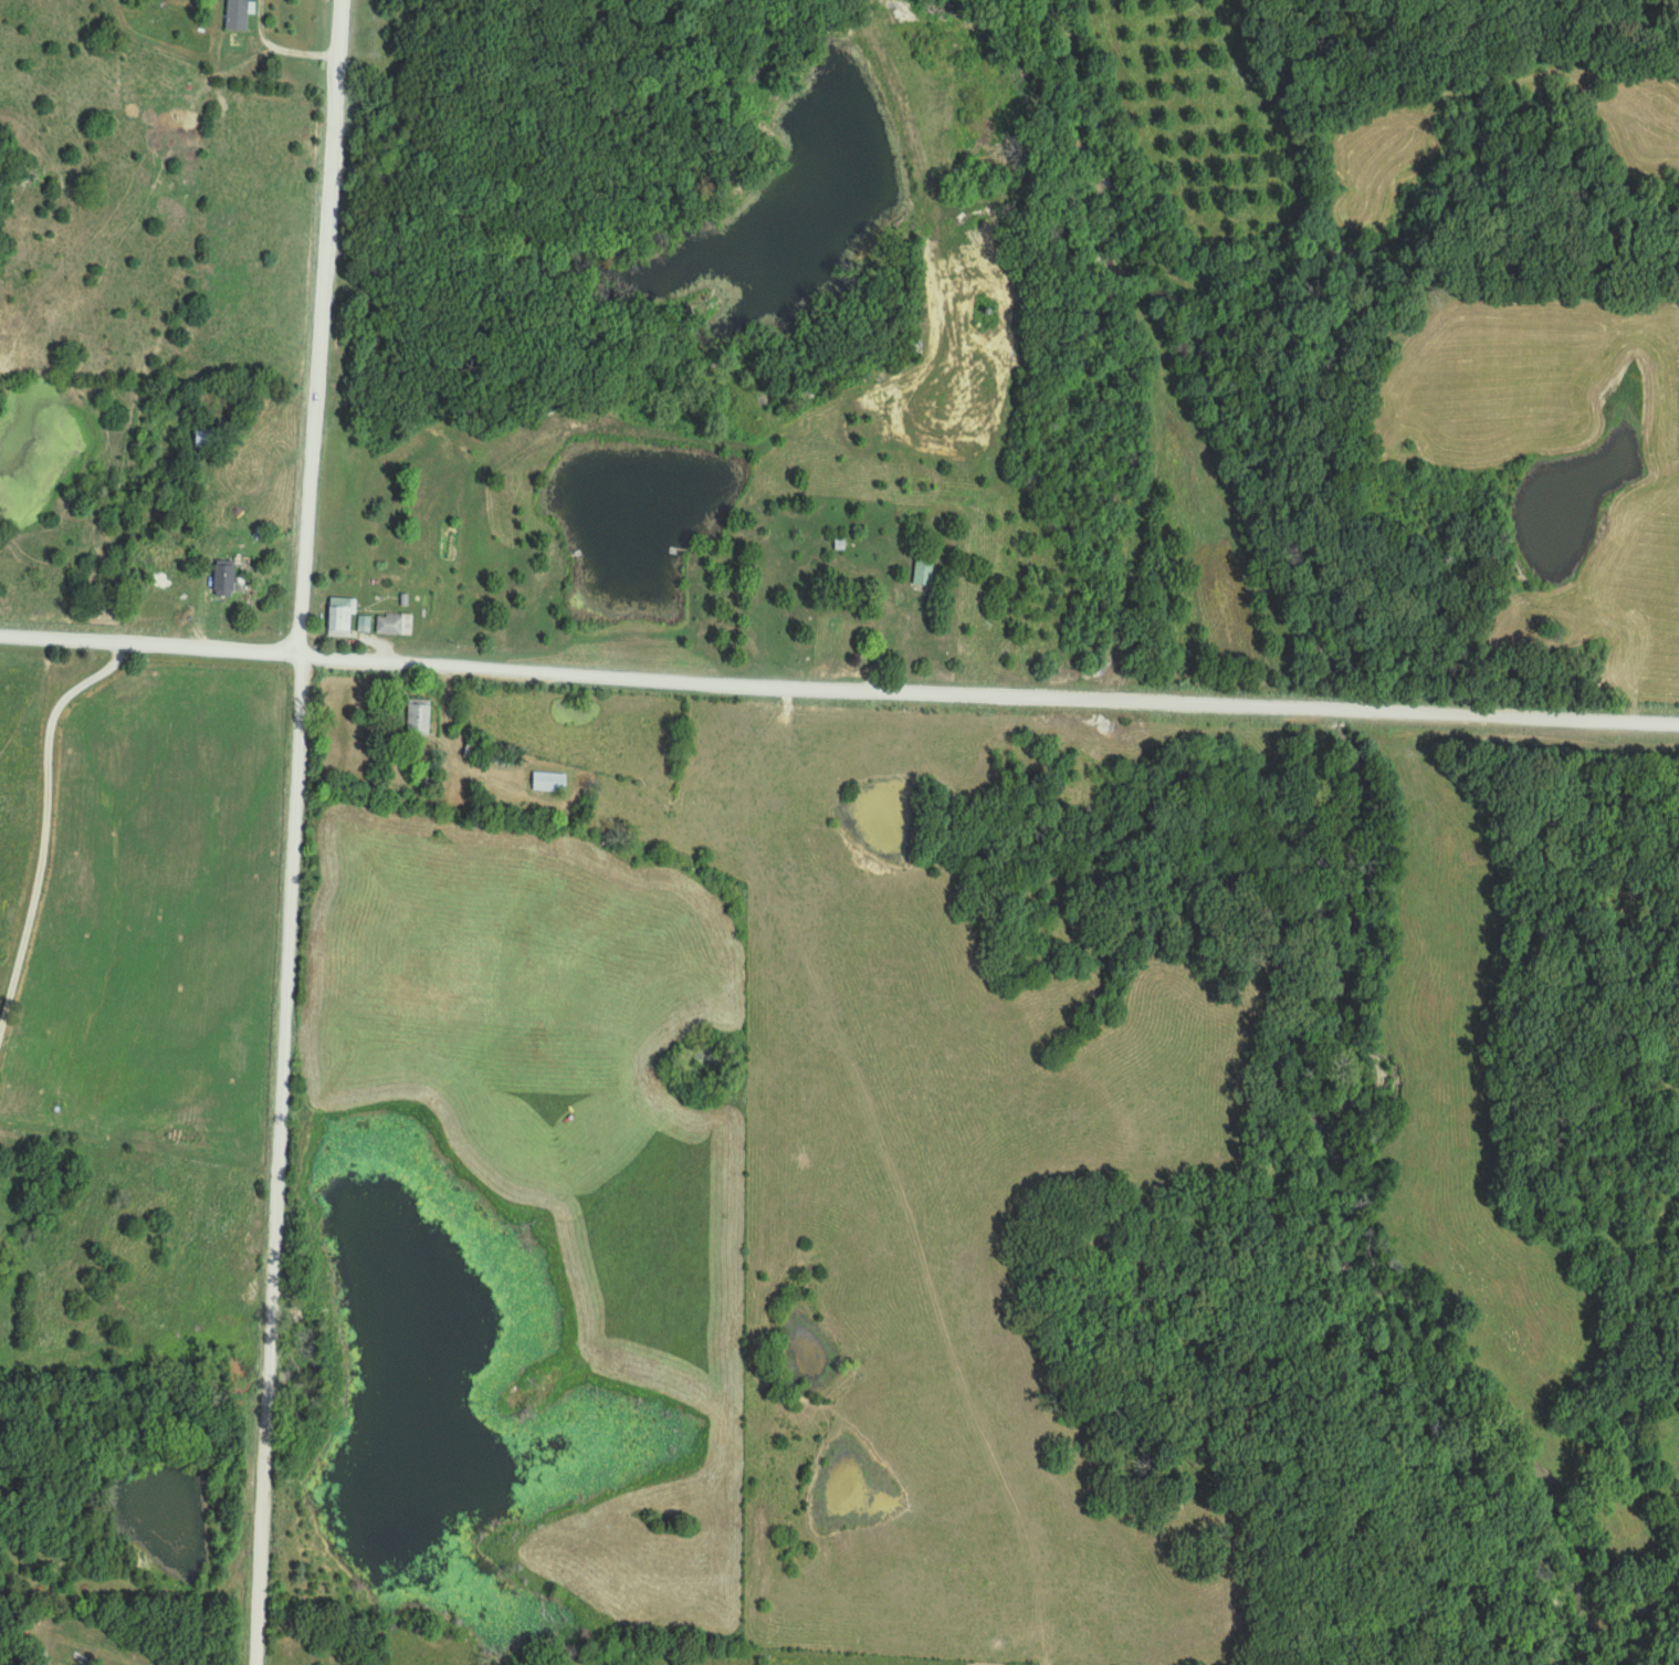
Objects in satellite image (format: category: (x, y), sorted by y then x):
building: (238, 15)
road: (286, 41)
road: (319, 326)
building: (209, 439)
building: (923, 575)
building: (162, 582)
building: (342, 618)
building: (395, 626)
building: (840, 631)
road: (839, 685)
building: (419, 720)
building: (473, 754)
building: (549, 783)
building: (434, 784)
road: (43, 819)
road: (275, 1159)
road: (122, 1658)

